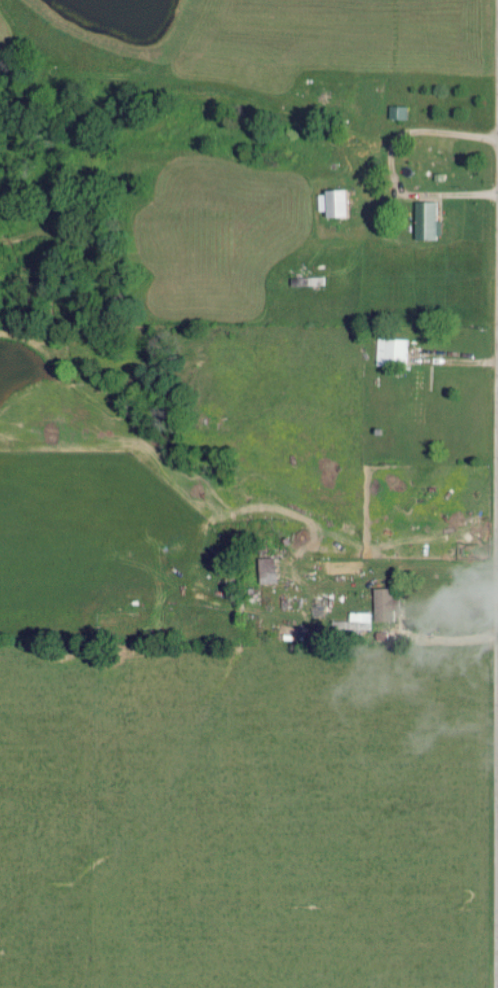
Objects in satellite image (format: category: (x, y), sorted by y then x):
building: (395, 111)
building: (329, 202)
building: (424, 220)
building: (391, 350)
building: (265, 569)
building: (382, 603)
building: (353, 620)

